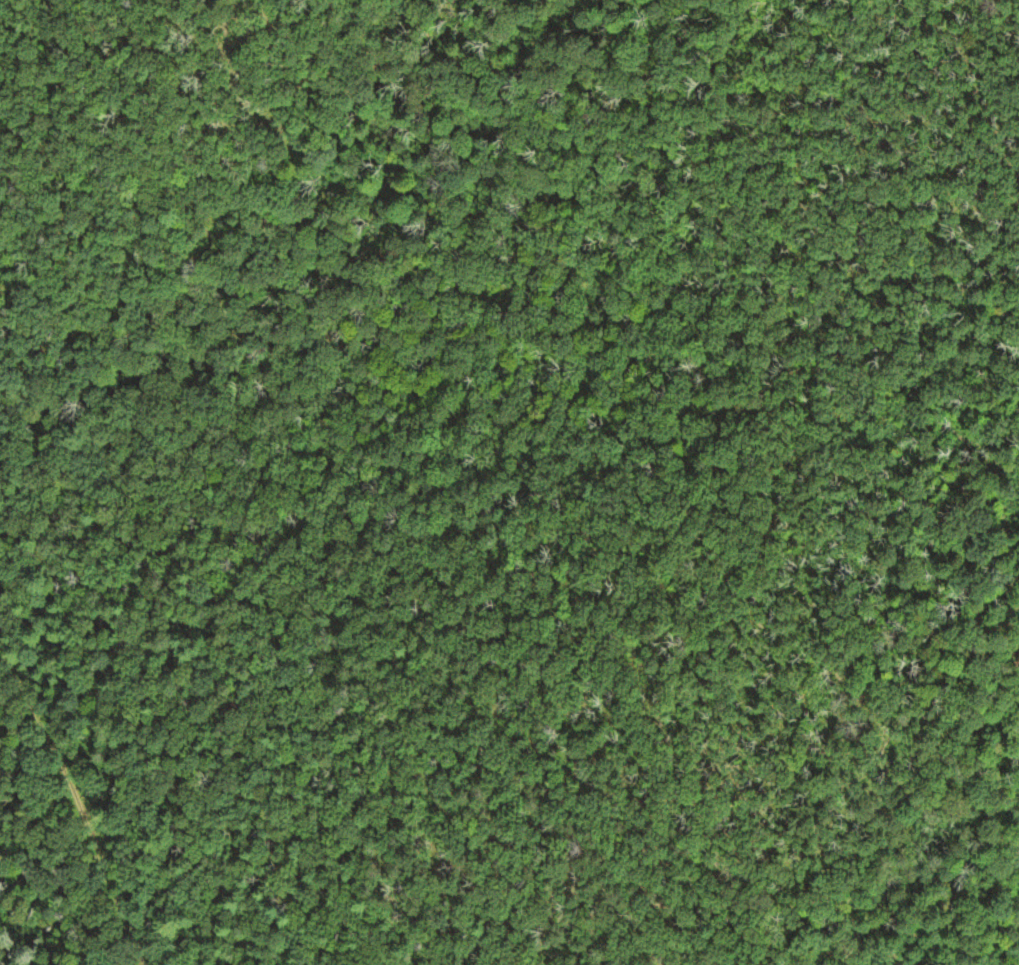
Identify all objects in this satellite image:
road: (78, 806)

